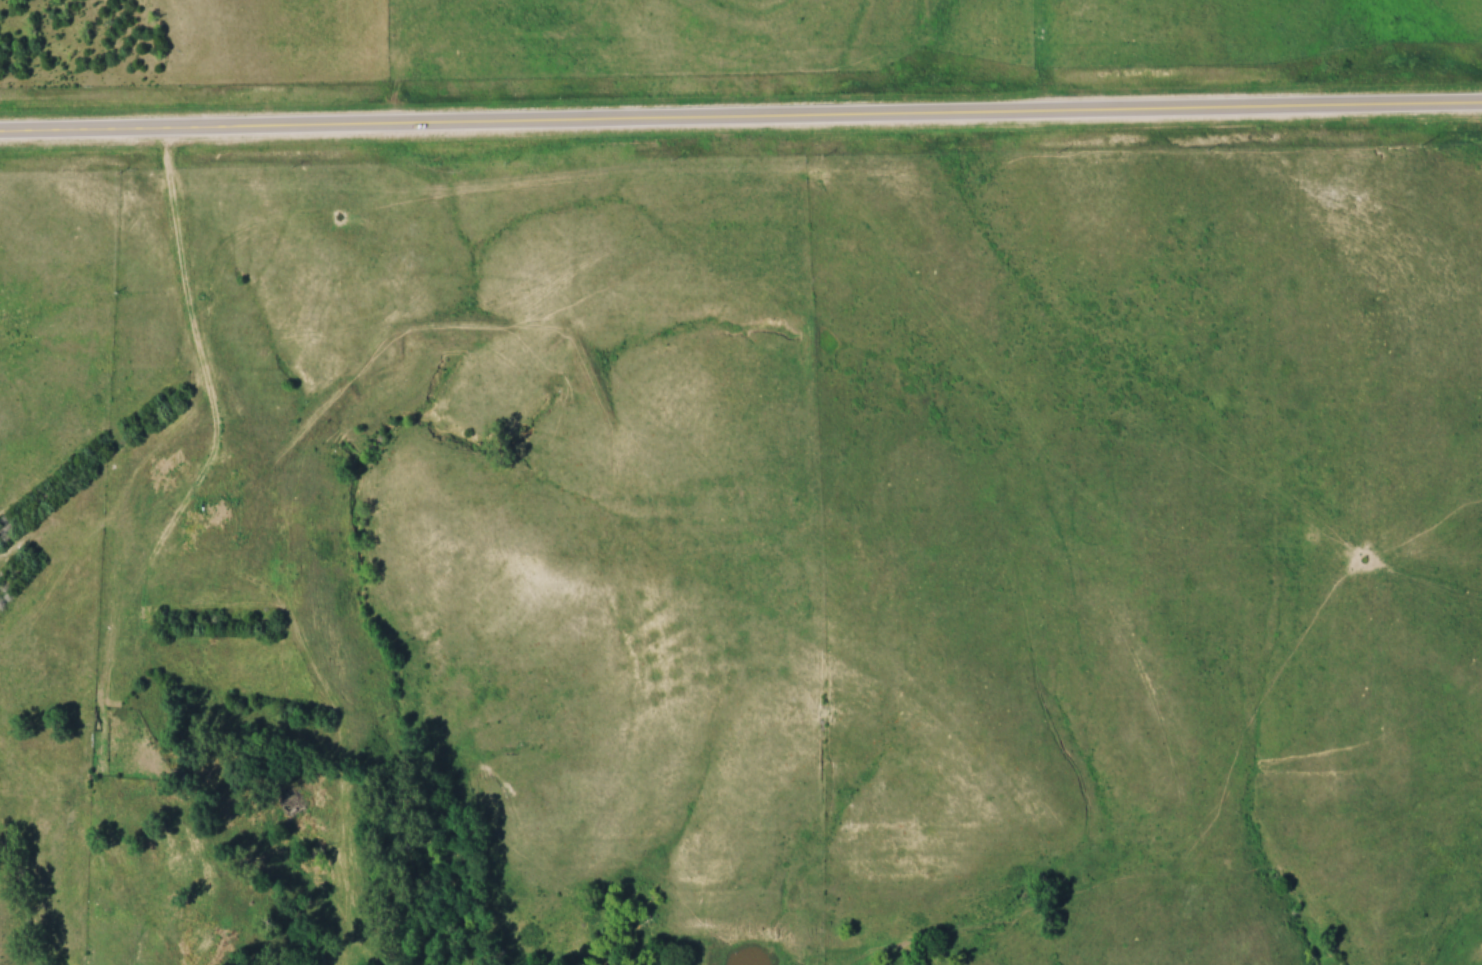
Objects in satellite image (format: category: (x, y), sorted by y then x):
road: (741, 123)

